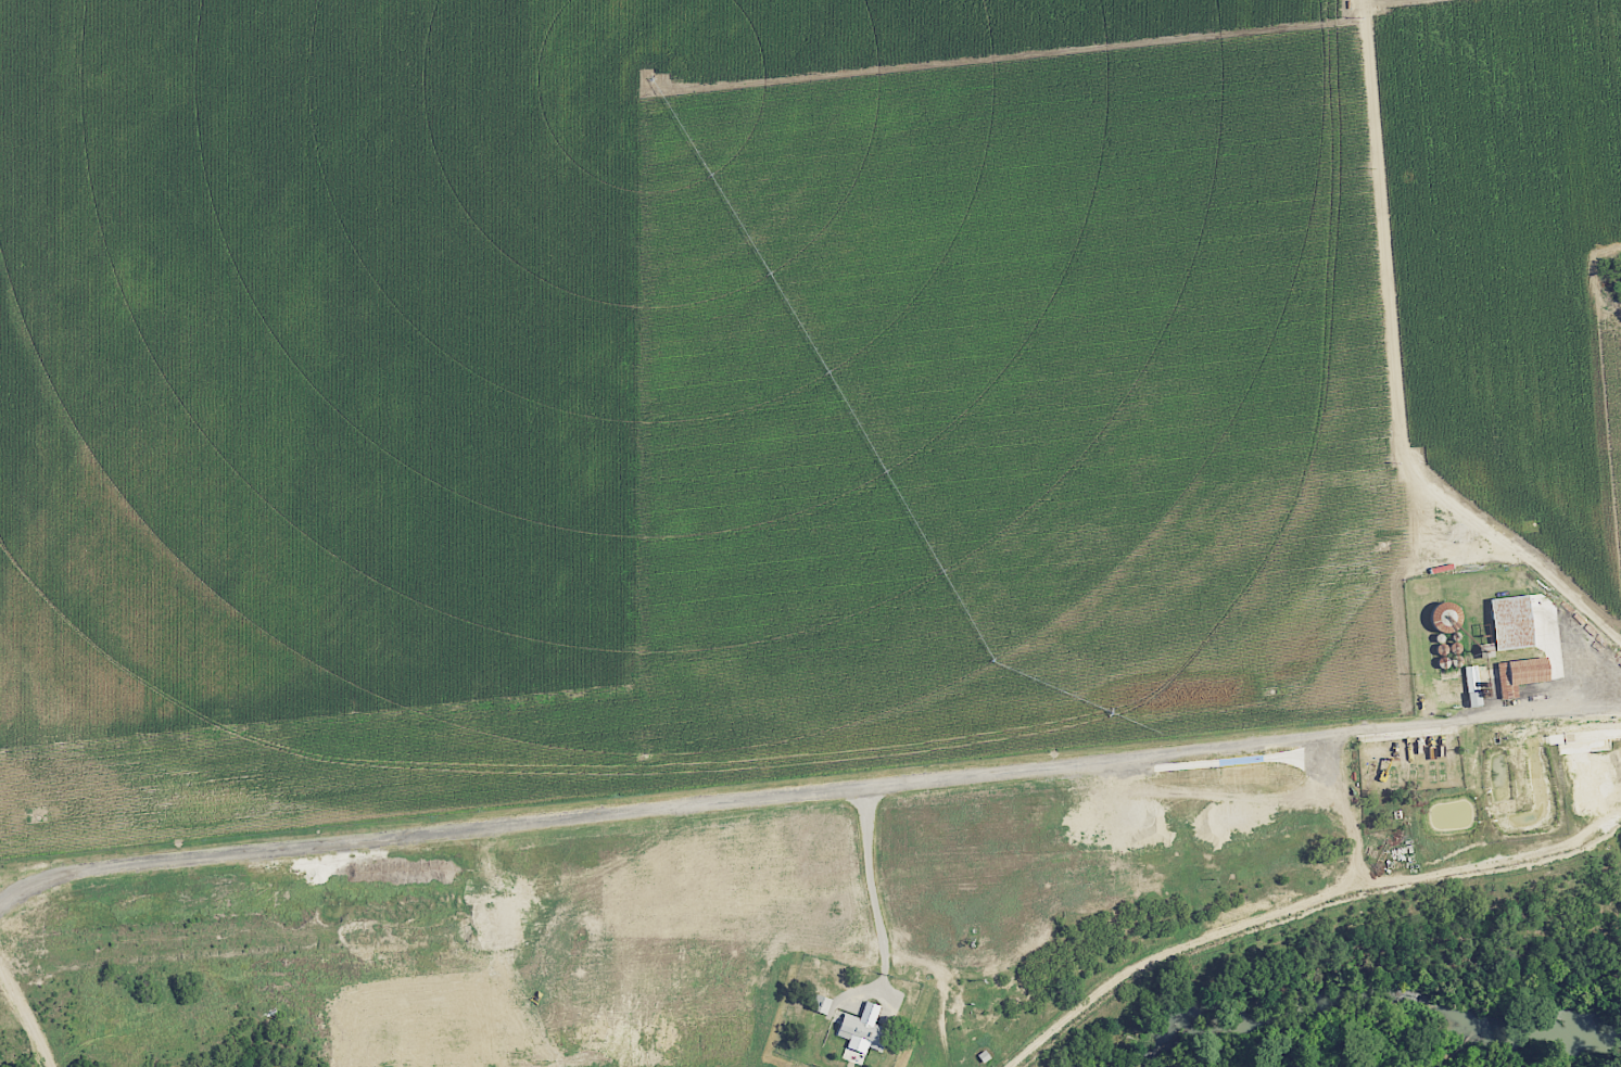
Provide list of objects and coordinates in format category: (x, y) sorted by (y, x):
road: (1404, 368)
road: (1515, 389)
building: (1517, 673)
building: (1469, 685)
road: (806, 793)
road: (1353, 813)
road: (874, 878)
road: (1290, 911)
road: (227, 966)
river: (1366, 990)
building: (820, 1004)
road: (26, 1020)
building: (857, 1032)

